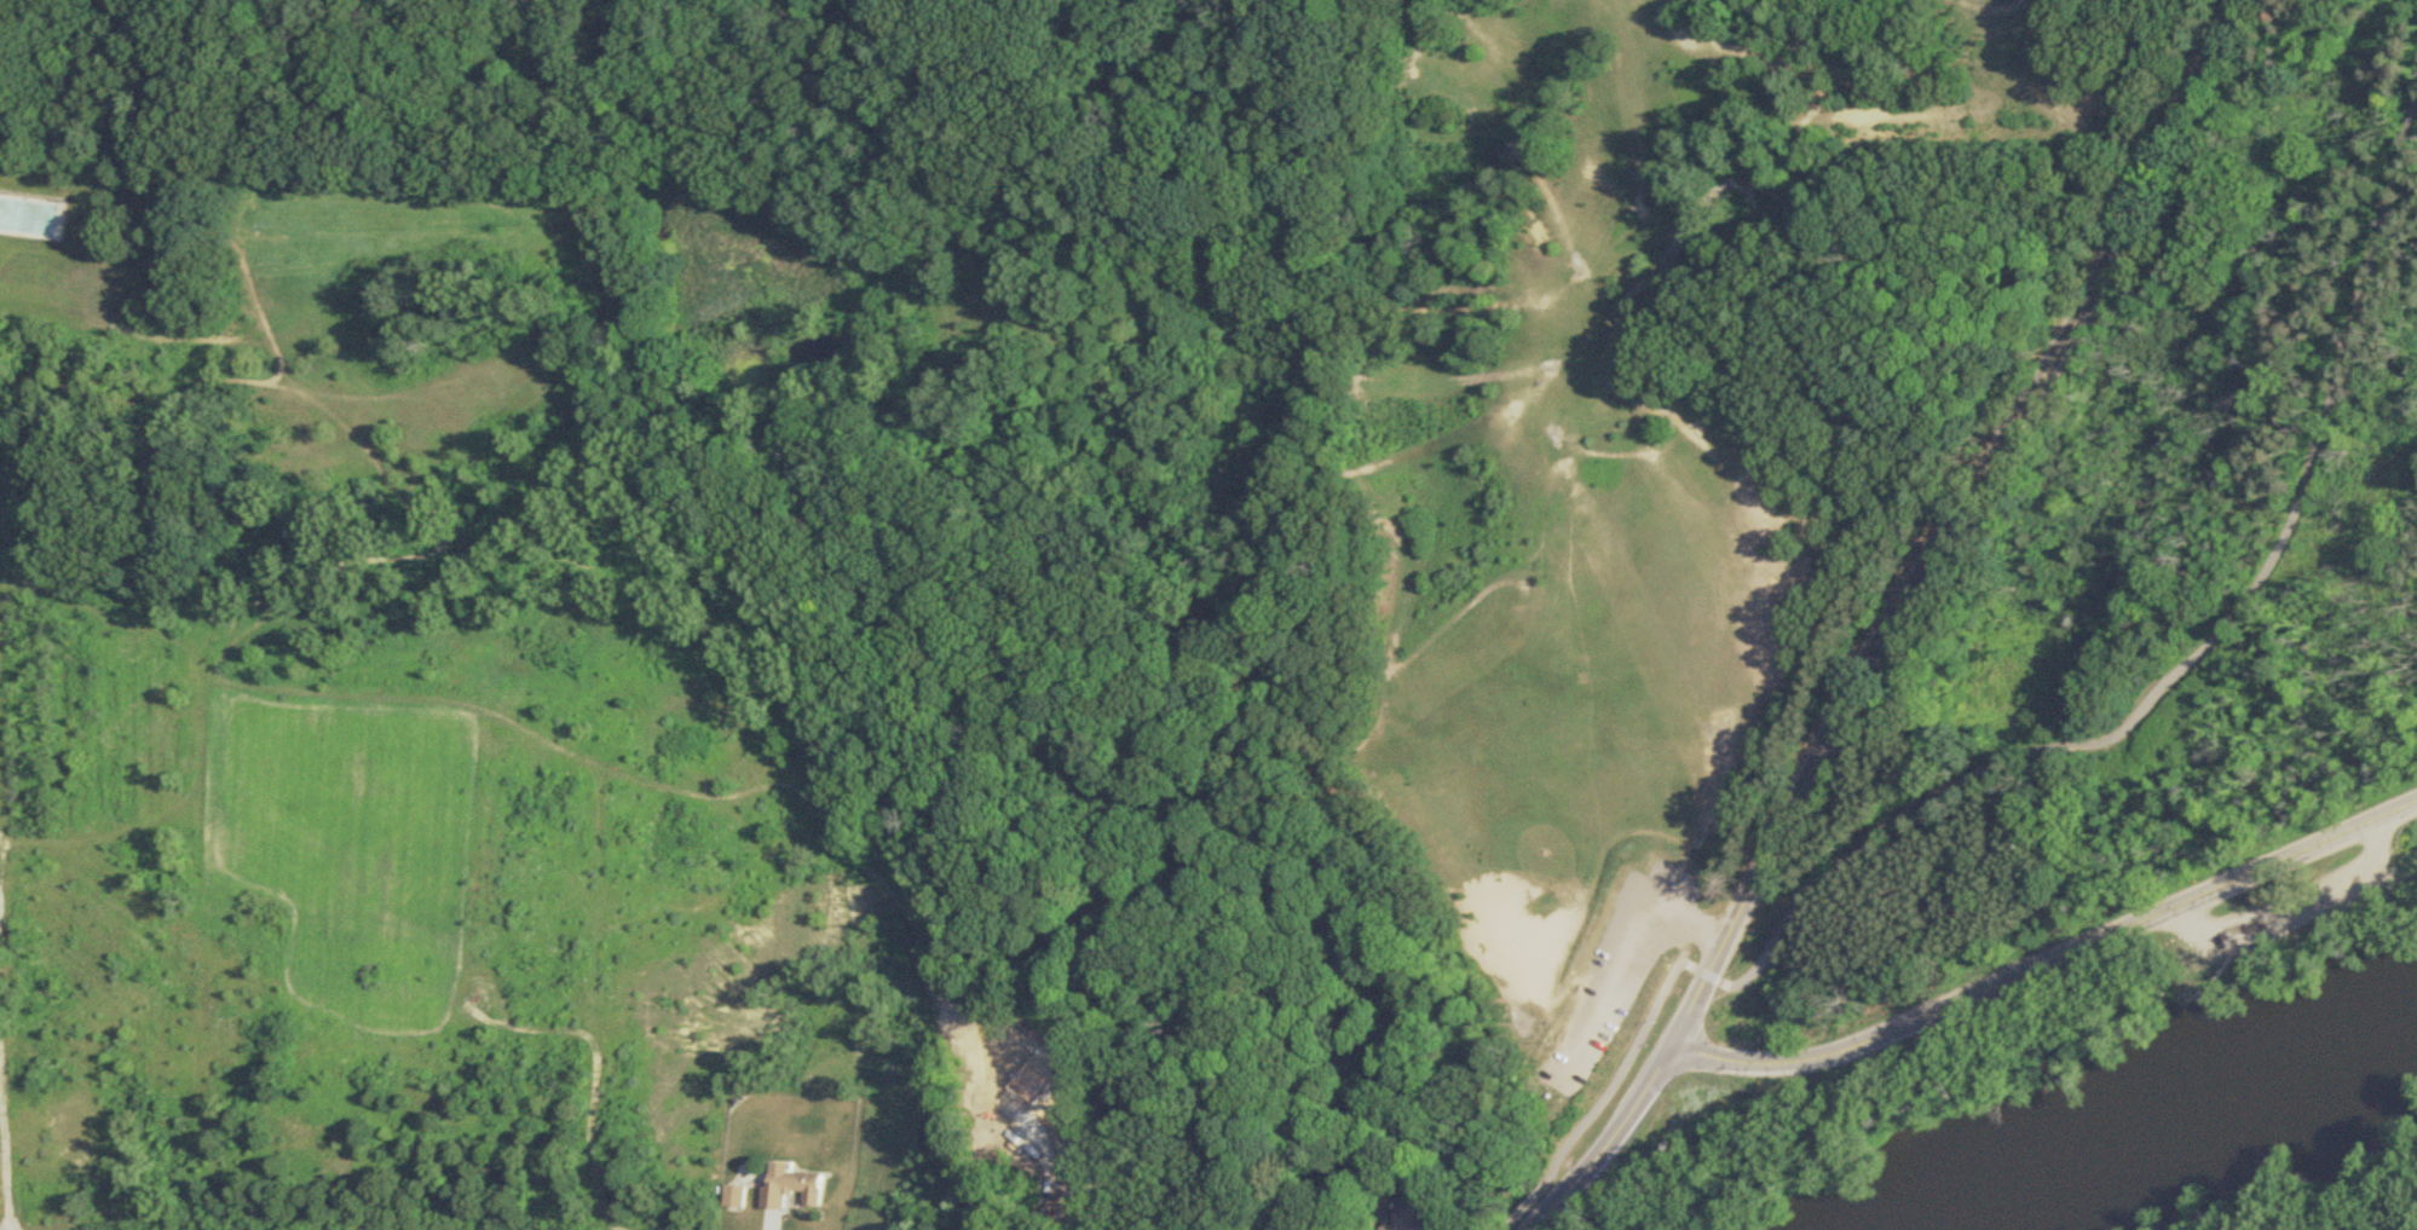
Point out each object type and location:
park: (1679, 446)
park: (2169, 555)
road: (1896, 619)
road: (2047, 747)
road: (2296, 909)
road: (2052, 960)
road: (1625, 968)
parking lot: (1623, 980)
road: (4, 1061)
river: (2179, 1116)
building: (729, 1161)
building: (789, 1185)
building: (1412, 1213)

